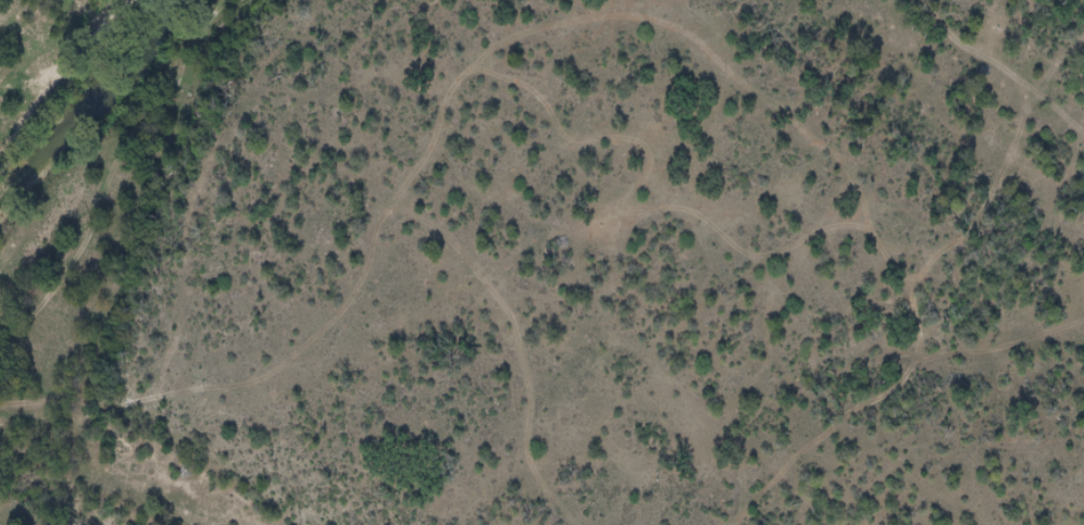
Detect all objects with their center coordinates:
river: (90, 110)

